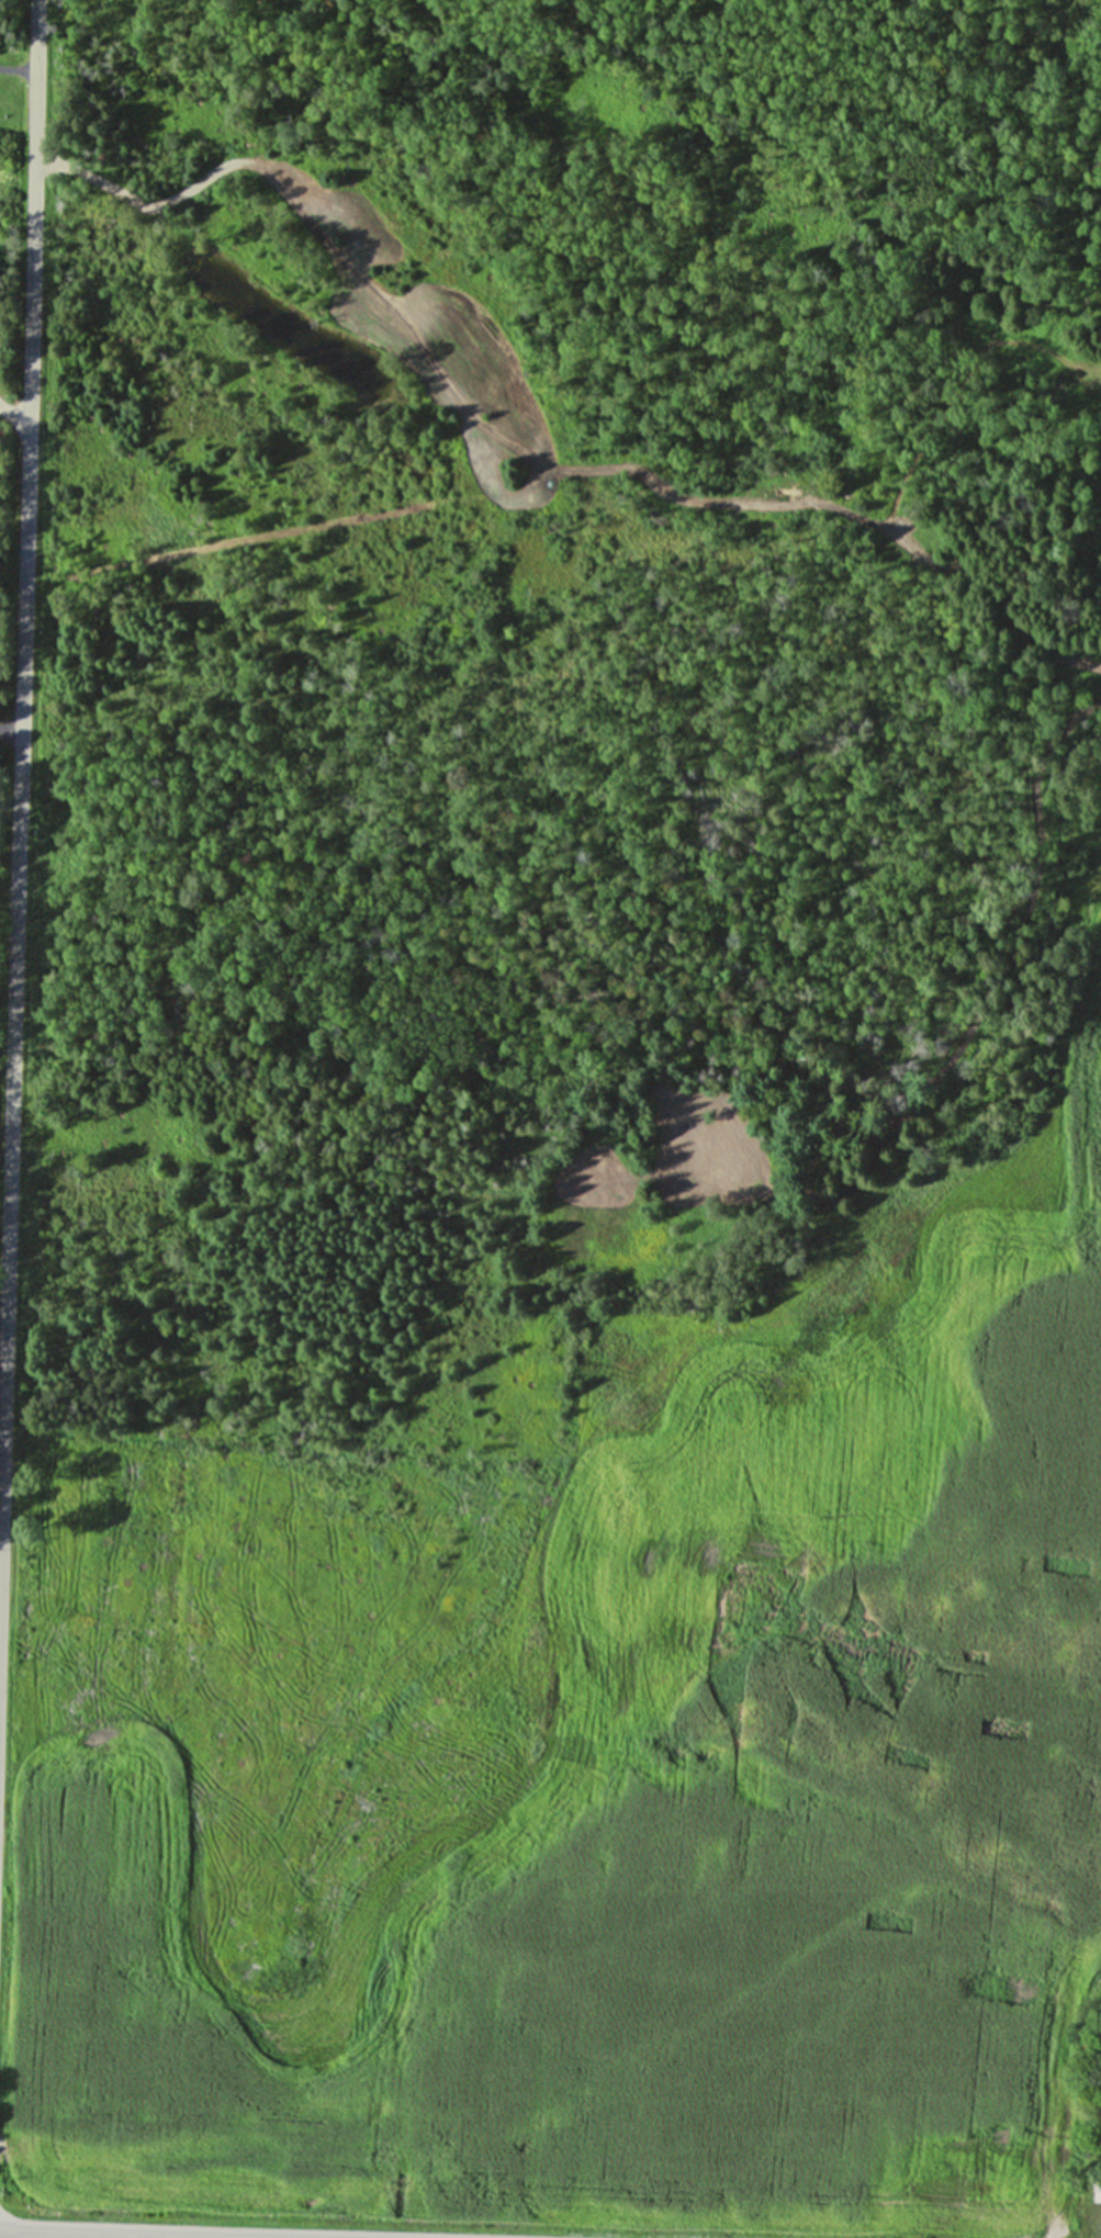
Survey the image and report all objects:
road: (19, 70)
road: (10, 728)
road: (19, 781)
building: (1076, 1781)
road: (155, 2233)

